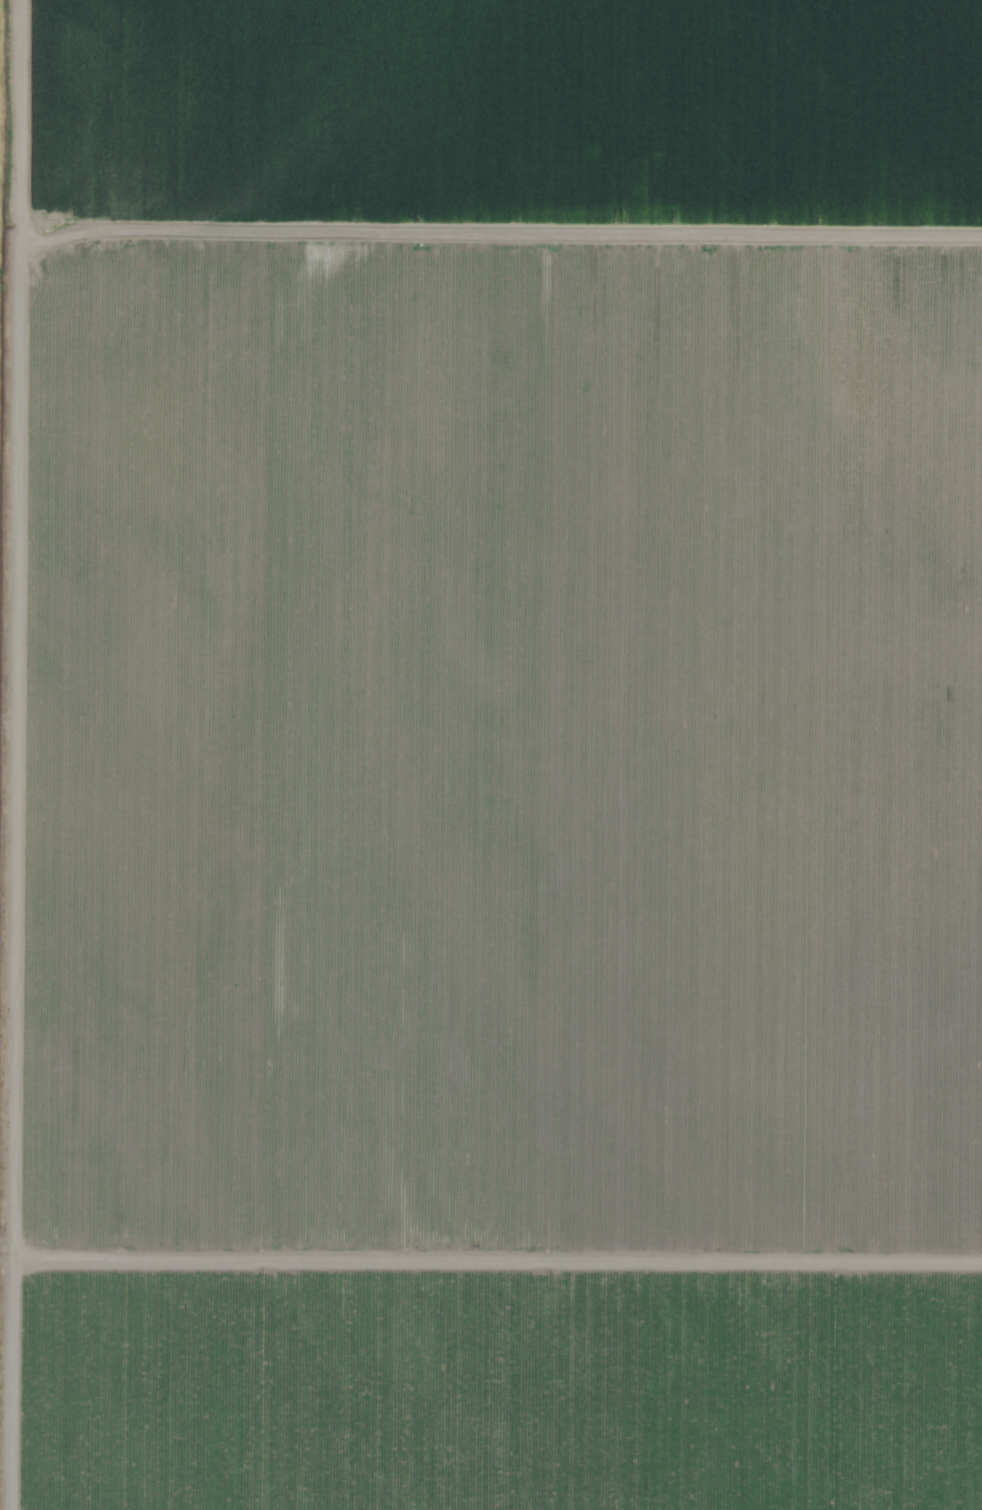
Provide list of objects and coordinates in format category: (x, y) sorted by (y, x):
crop: (524, 629)
road: (9, 1149)
road: (499, 1249)
crop: (532, 1387)

